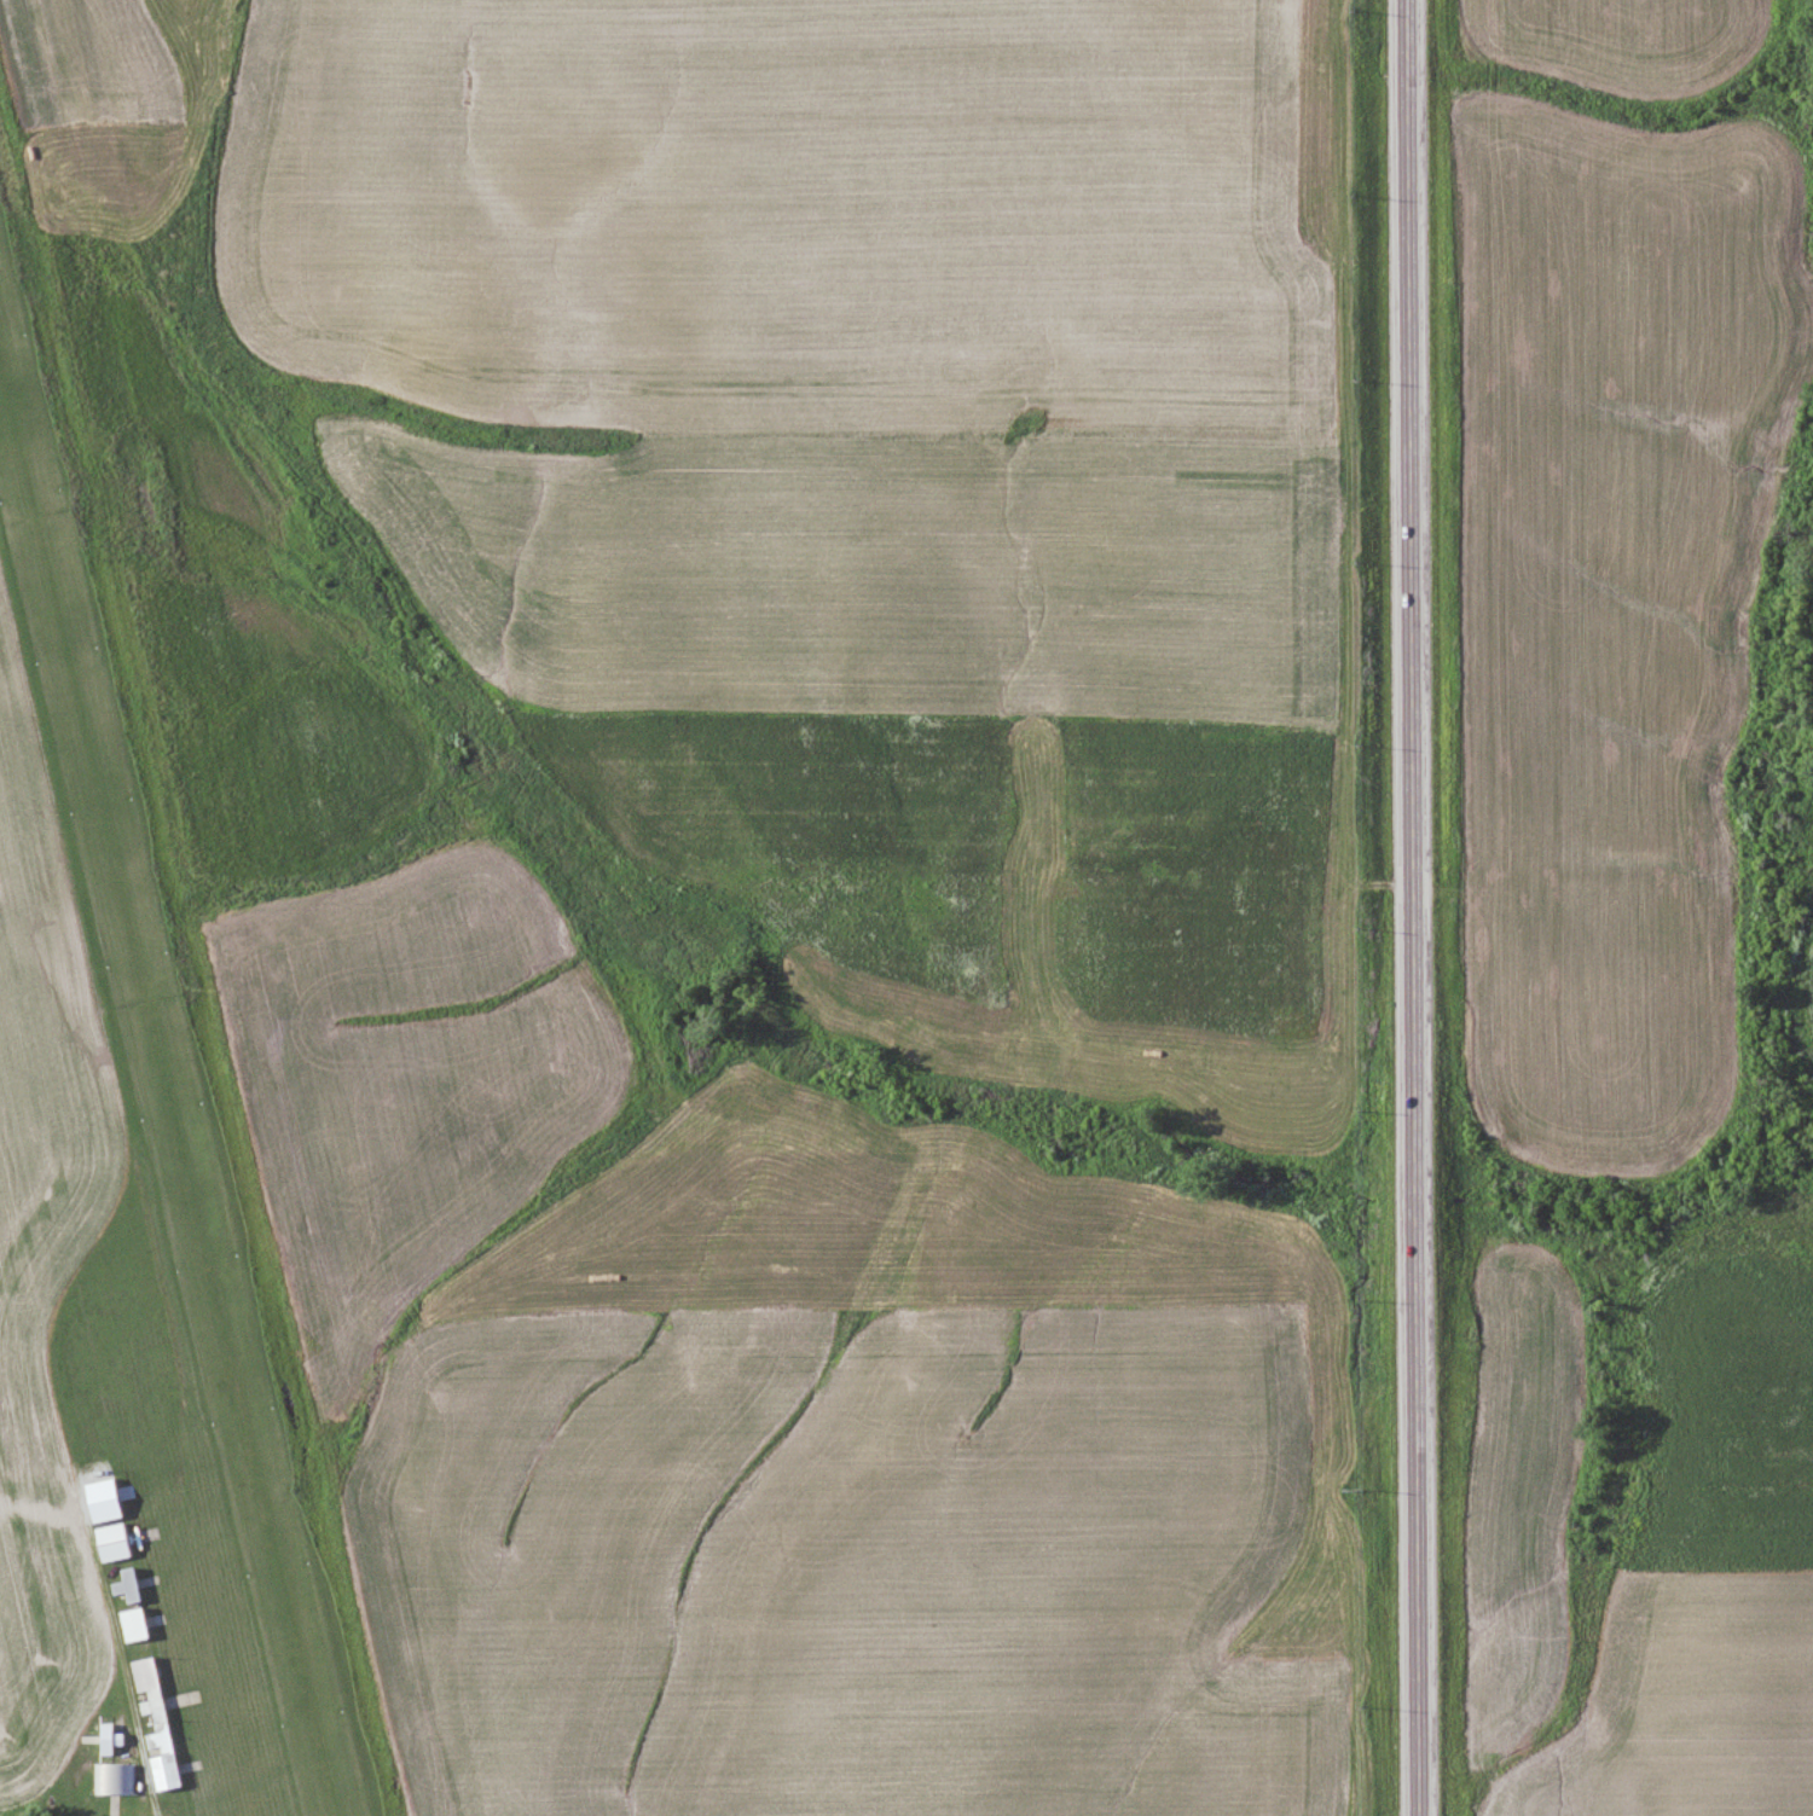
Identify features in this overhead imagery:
road: (1417, 907)
airport runway: (164, 1077)
building: (111, 1542)
building: (129, 1585)
building: (132, 1625)
building: (152, 1723)
building: (114, 1780)

